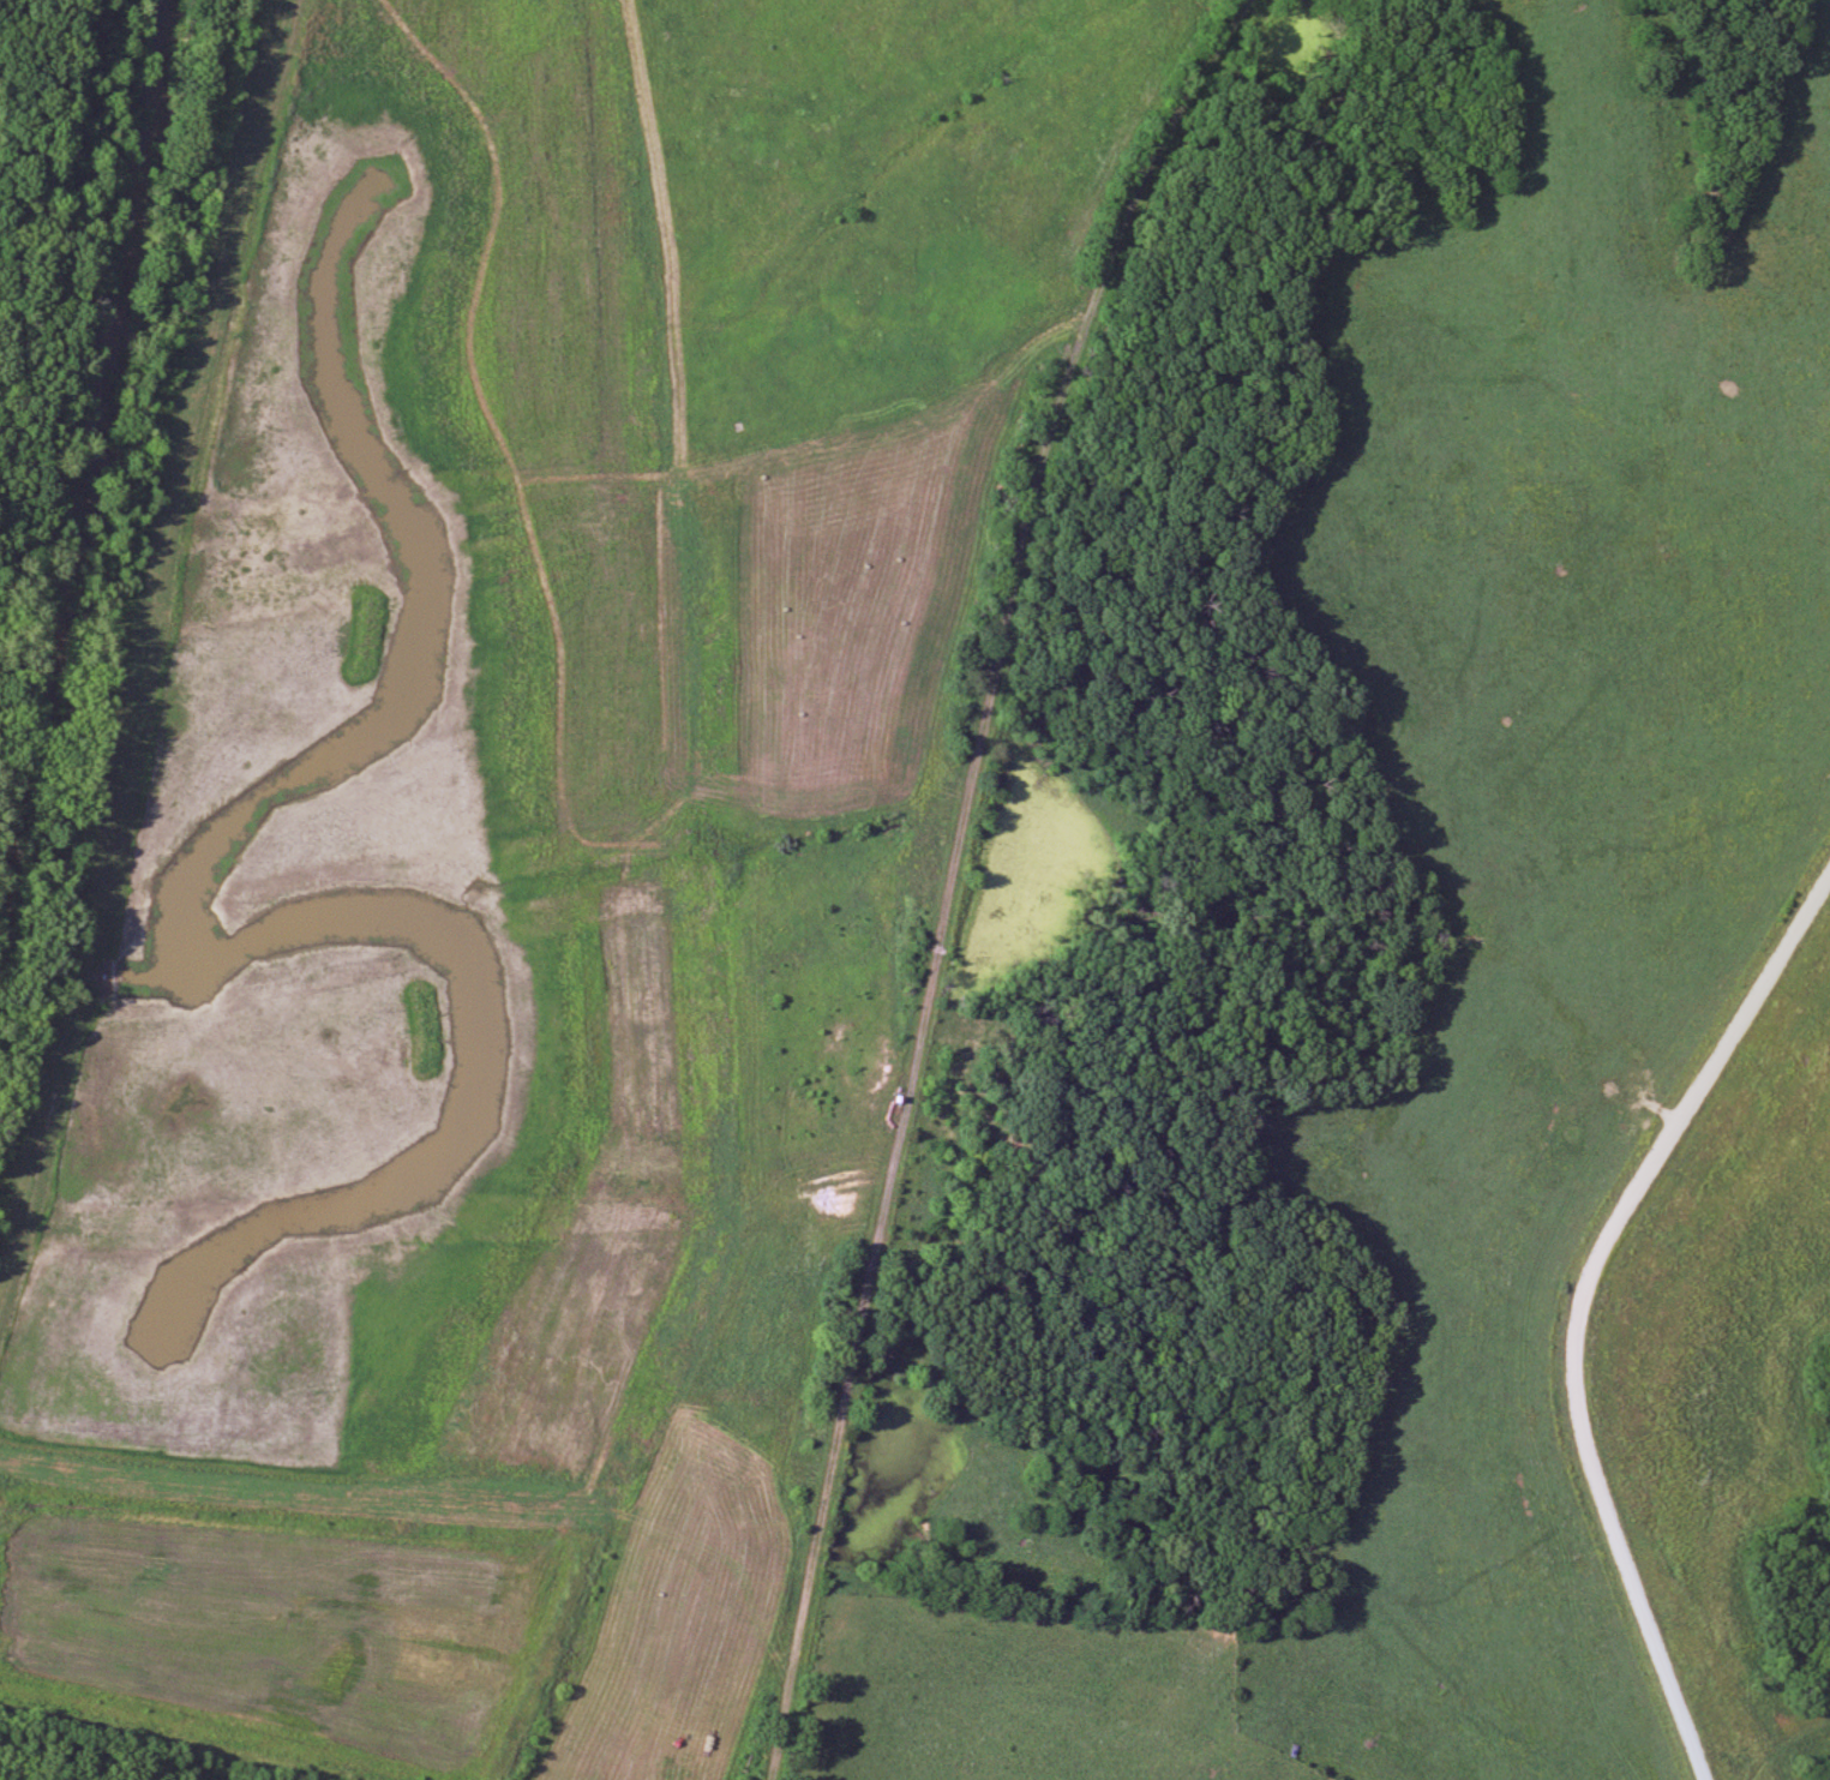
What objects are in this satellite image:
river: (98, 480)
road: (1578, 1301)
road: (1781, 1744)

